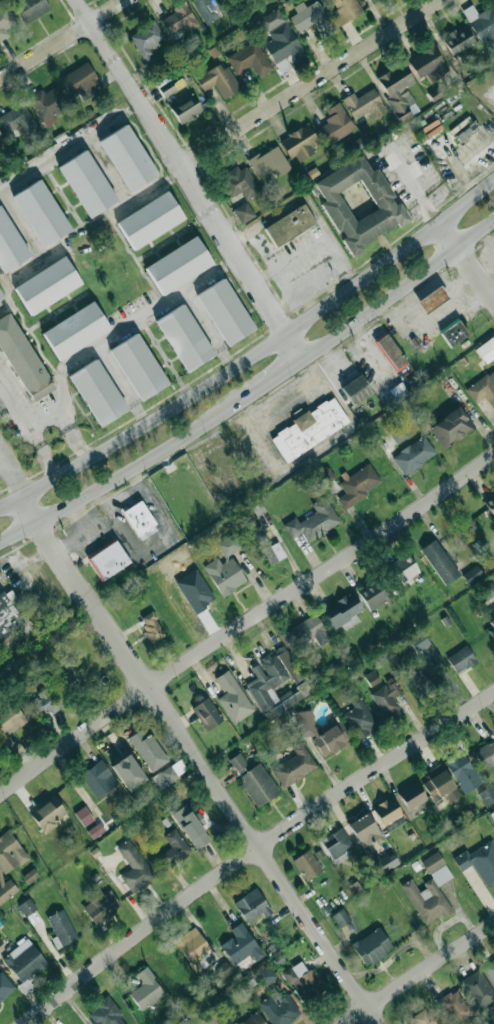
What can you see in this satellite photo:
building: (370, 0)
building: (211, 8)
building: (29, 9)
building: (345, 10)
building: (311, 17)
building: (178, 18)
building: (5, 19)
building: (270, 20)
building: (481, 23)
road: (61, 39)
building: (458, 40)
building: (281, 42)
building: (148, 45)
building: (248, 58)
building: (427, 64)
building: (218, 80)
building: (81, 81)
road: (309, 83)
building: (171, 86)
building: (397, 91)
building: (48, 104)
building: (364, 104)
building: (185, 108)
building: (20, 123)
building: (335, 124)
building: (430, 129)
building: (465, 129)
building: (0, 137)
building: (299, 143)
building: (353, 145)
road: (70, 148)
building: (0, 153)
building: (128, 158)
building: (269, 162)
road: (109, 170)
road: (189, 180)
building: (239, 182)
building: (87, 184)
road: (416, 185)
road: (147, 192)
building: (358, 203)
building: (243, 211)
building: (41, 213)
building: (149, 220)
road: (23, 225)
building: (289, 225)
building: (10, 245)
road: (313, 247)
road: (468, 259)
road: (36, 264)
building: (177, 265)
road: (283, 283)
building: (48, 285)
road: (400, 289)
building: (1, 296)
building: (432, 299)
road: (311, 301)
road: (283, 305)
building: (226, 312)
road: (133, 323)
road: (209, 328)
building: (76, 331)
building: (453, 332)
building: (184, 338)
building: (486, 349)
building: (390, 351)
road: (252, 354)
building: (22, 360)
building: (140, 367)
road: (278, 378)
road: (121, 383)
building: (483, 388)
building: (356, 389)
building: (99, 393)
road: (64, 417)
building: (451, 427)
road: (28, 428)
building: (309, 429)
building: (398, 435)
road: (319, 445)
building: (413, 454)
road: (0, 458)
road: (125, 470)
road: (10, 476)
building: (358, 485)
building: (490, 502)
building: (257, 507)
building: (139, 520)
building: (313, 521)
building: (228, 544)
building: (267, 546)
building: (107, 559)
building: (439, 562)
building: (402, 570)
building: (224, 574)
building: (472, 575)
building: (194, 591)
building: (486, 592)
building: (373, 594)
building: (343, 611)
building: (8, 617)
road: (245, 623)
building: (151, 626)
building: (490, 629)
building: (303, 633)
building: (418, 641)
building: (461, 659)
building: (289, 664)
building: (337, 667)
building: (371, 677)
building: (422, 677)
building: (273, 686)
building: (232, 697)
building: (386, 699)
building: (46, 701)
building: (207, 713)
building: (359, 717)
building: (11, 718)
building: (321, 731)
building: (147, 749)
building: (485, 754)
road: (200, 761)
building: (238, 764)
building: (294, 766)
building: (462, 771)
building: (128, 772)
building: (169, 773)
building: (98, 778)
building: (258, 784)
building: (440, 784)
building: (411, 795)
building: (487, 795)
building: (387, 811)
building: (48, 813)
building: (83, 816)
building: (190, 826)
building: (95, 830)
building: (364, 830)
building: (337, 844)
building: (173, 847)
road: (254, 848)
building: (479, 861)
building: (384, 863)
building: (307, 864)
building: (134, 867)
building: (30, 876)
building: (429, 891)
building: (252, 905)
building: (26, 907)
building: (99, 907)
building: (340, 917)
building: (60, 927)
building: (0, 941)
building: (241, 945)
building: (193, 946)
building: (372, 946)
building: (23, 960)
building: (223, 970)
building: (490, 970)
road: (419, 973)
building: (265, 975)
building: (303, 980)
building: (4, 986)
building: (25, 986)
building: (478, 988)
building: (146, 989)
building: (455, 1007)
building: (279, 1008)
building: (104, 1013)
building: (422, 1017)
building: (252, 1019)

